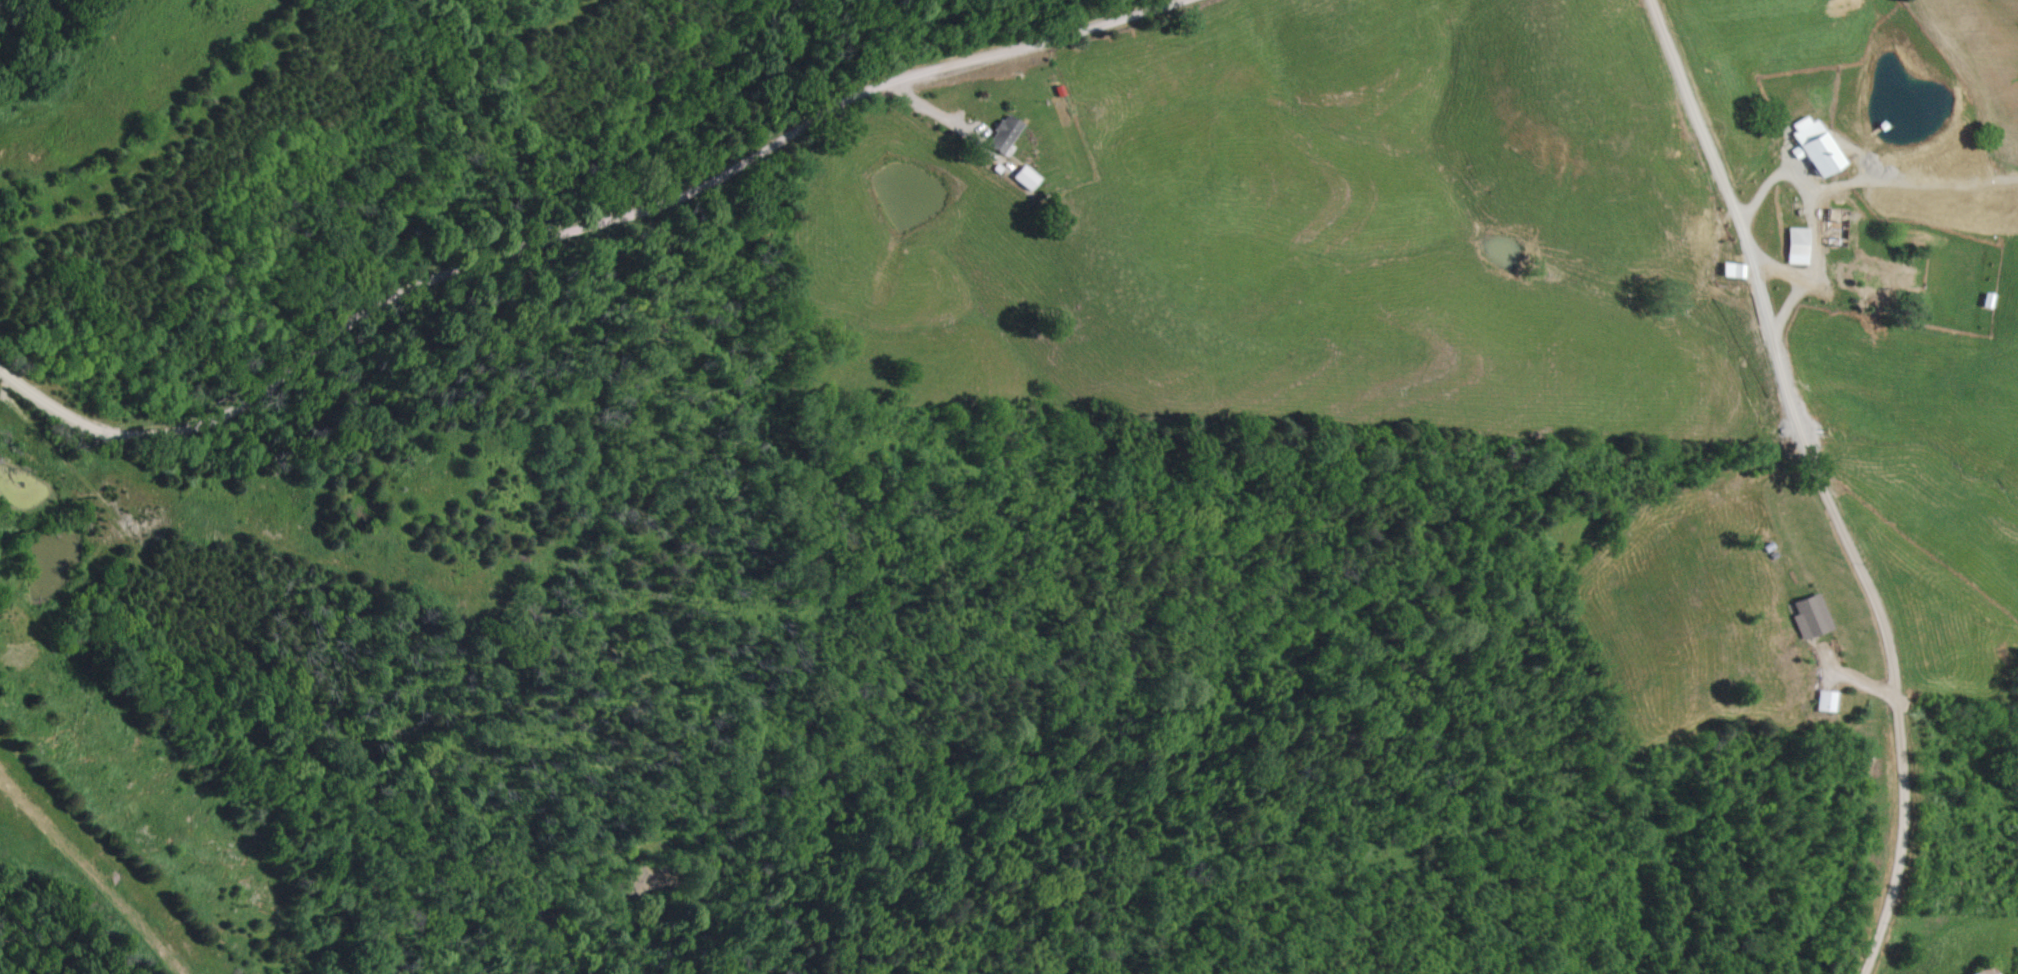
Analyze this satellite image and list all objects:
road: (955, 126)
building: (999, 136)
building: (1811, 146)
building: (1021, 178)
road: (1821, 190)
building: (1833, 229)
road: (589, 241)
building: (1794, 247)
building: (1729, 272)
crop: (1518, 291)
road: (1839, 469)
building: (1807, 617)
building: (1822, 702)
building: (1982, 971)

